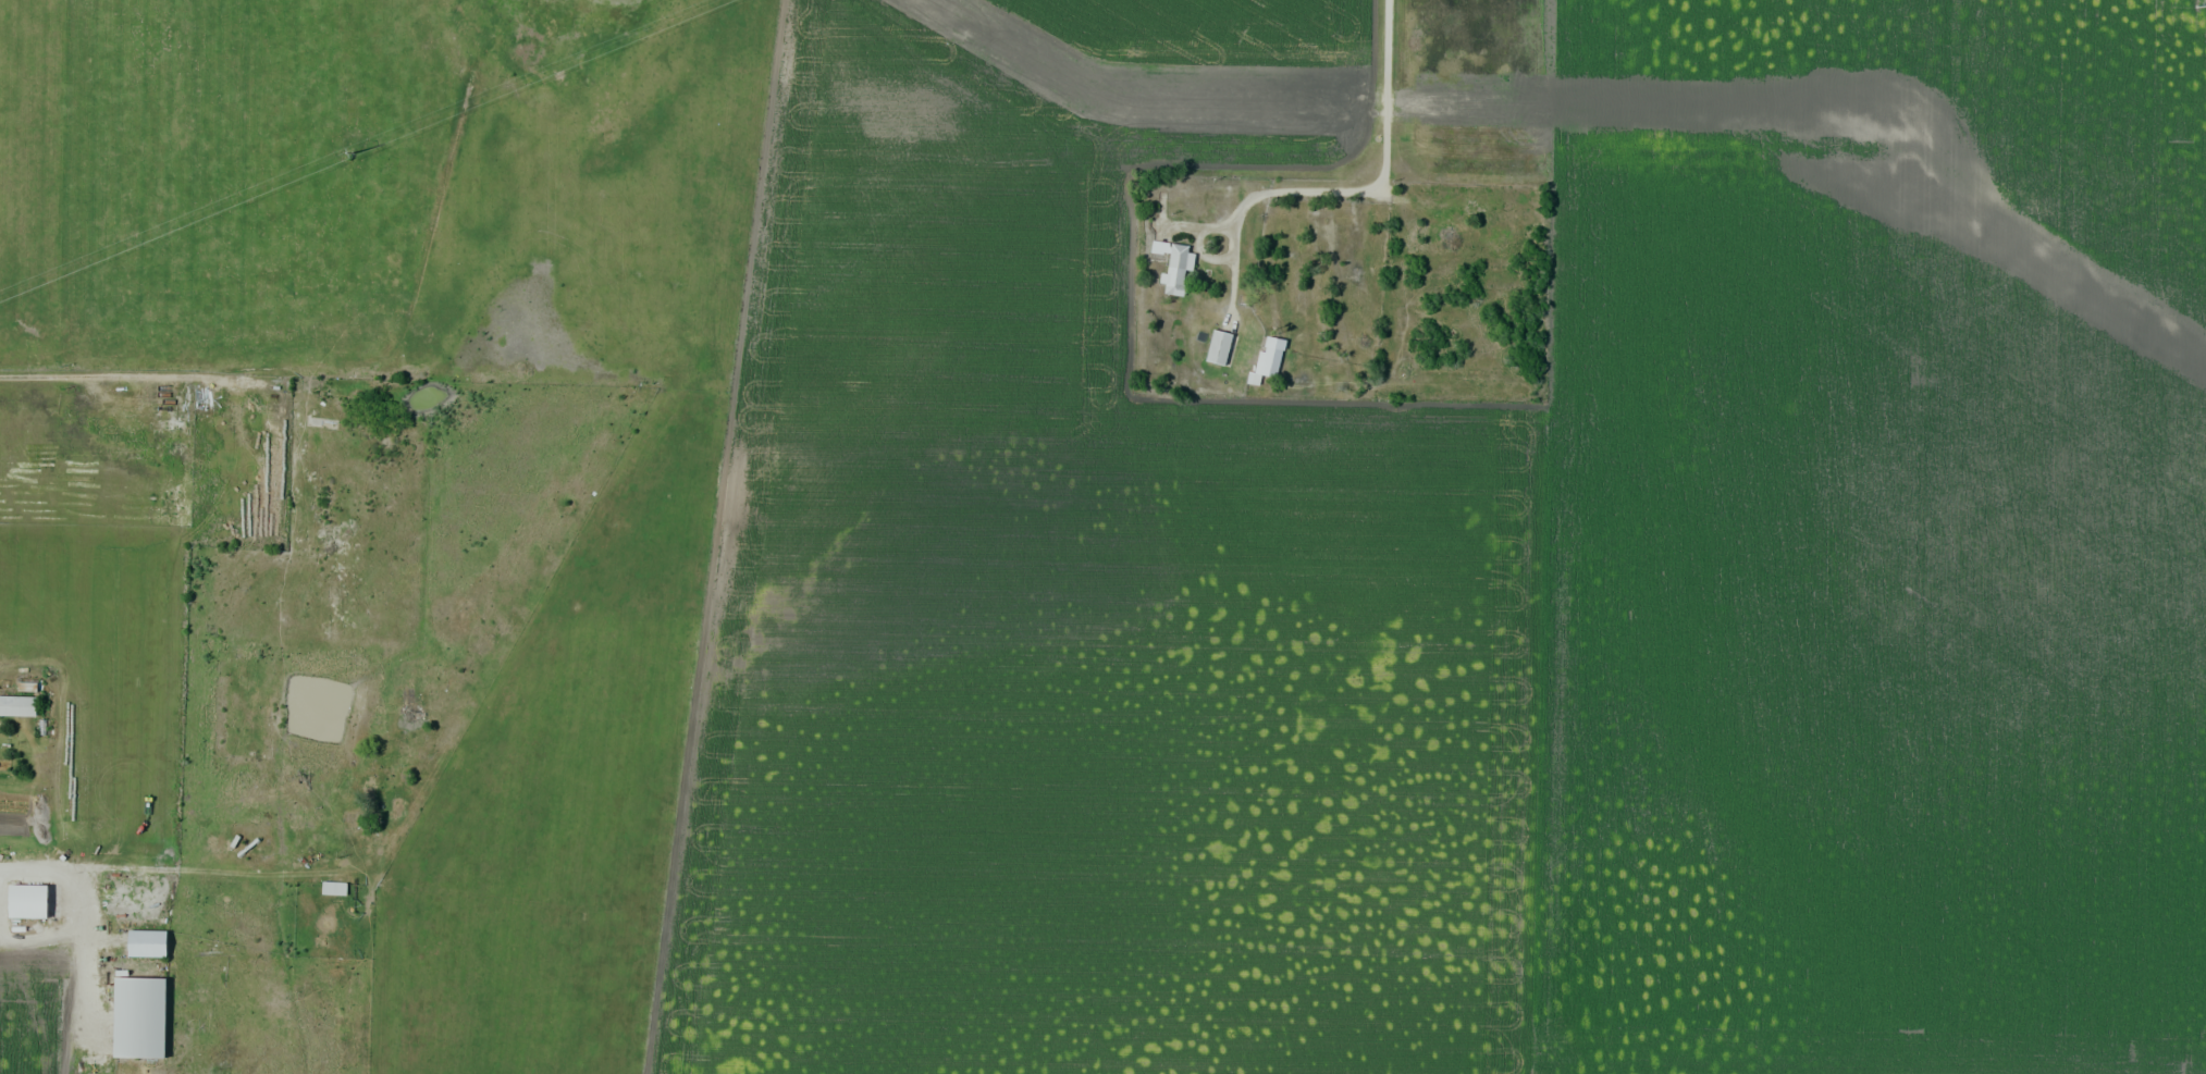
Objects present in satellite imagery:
power tower: (353, 152)
road: (1383, 162)
building: (1176, 268)
building: (1218, 346)
building: (1269, 358)
building: (17, 705)
building: (1720, 797)
building: (333, 887)
building: (27, 901)
building: (146, 942)

